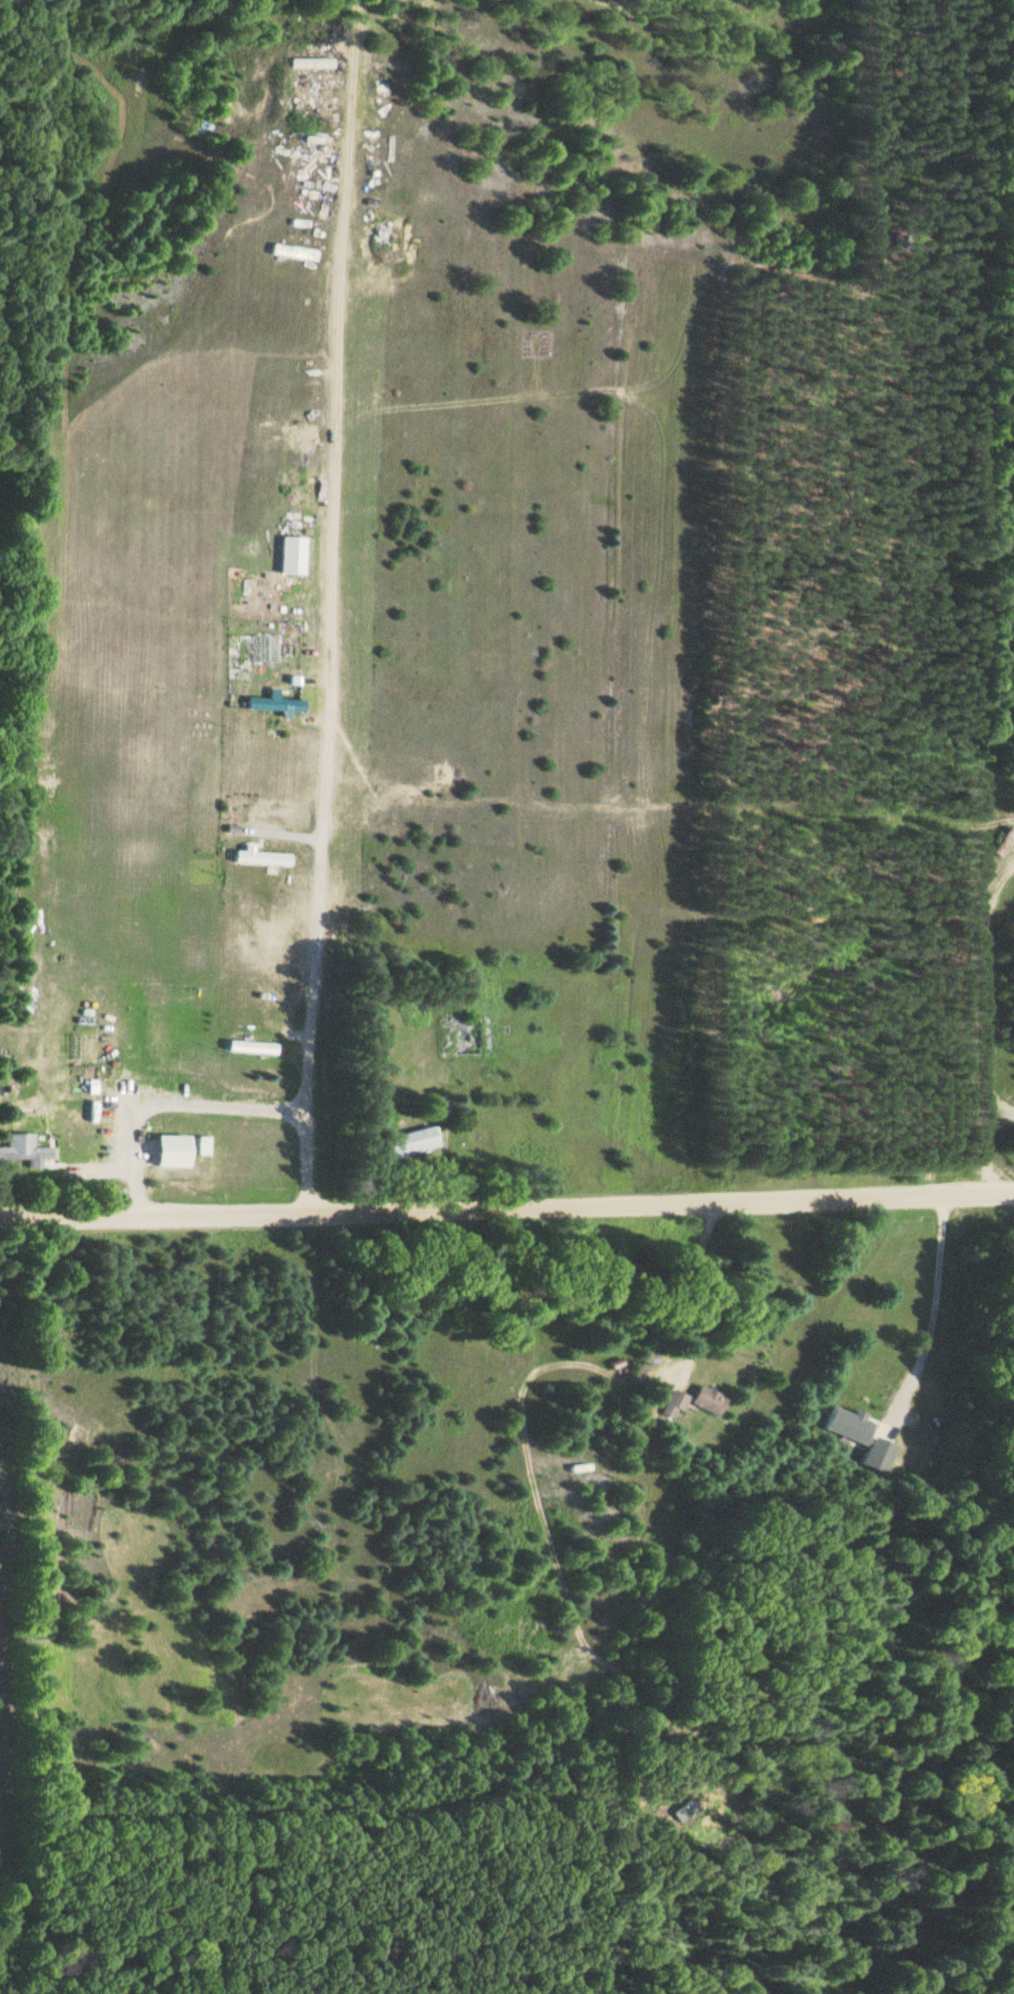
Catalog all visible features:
building: (350, 238)
road: (331, 606)
building: (271, 703)
building: (1007, 842)
building: (264, 857)
building: (9, 924)
quarry: (994, 966)
building: (250, 1045)
building: (439, 1103)
building: (410, 1141)
building: (205, 1145)
building: (29, 1149)
building: (174, 1151)
road: (507, 1208)
building: (710, 1400)
building: (675, 1403)
building: (864, 1437)

